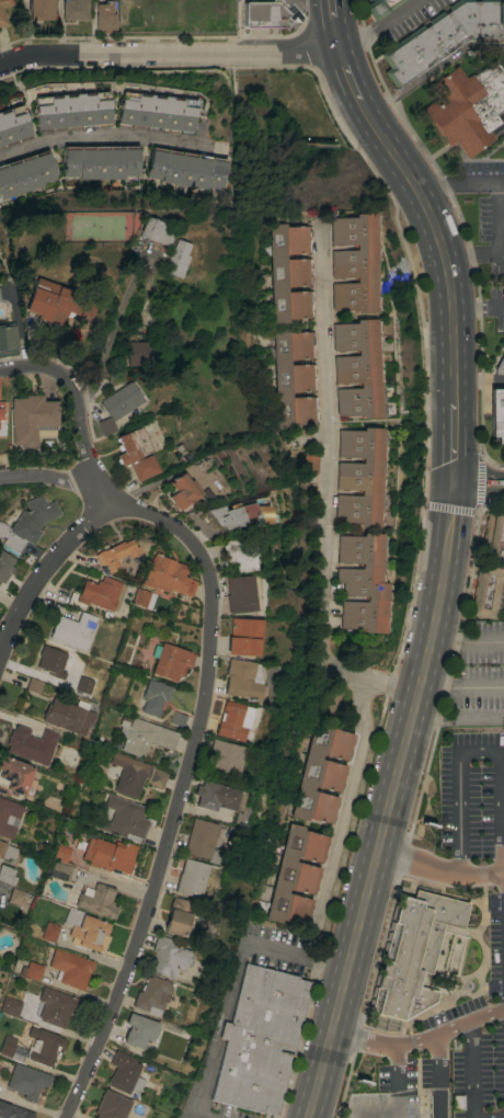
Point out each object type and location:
building: (379, 7)
building: (75, 9)
road: (333, 9)
building: (42, 10)
building: (217, 12)
building: (268, 12)
building: (131, 14)
building: (188, 14)
building: (2, 15)
building: (104, 15)
road: (378, 26)
road: (339, 35)
building: (443, 36)
road: (170, 55)
road: (348, 76)
building: (467, 106)
building: (71, 111)
building: (156, 112)
building: (13, 125)
road: (101, 137)
building: (101, 161)
building: (185, 168)
building: (25, 173)
road: (477, 183)
road: (435, 191)
road: (495, 224)
building: (154, 230)
road: (438, 241)
road: (469, 255)
building: (176, 259)
building: (355, 263)
building: (289, 271)
building: (58, 303)
road: (478, 309)
road: (110, 333)
building: (8, 335)
building: (137, 352)
building: (500, 365)
building: (358, 367)
building: (294, 377)
building: (117, 406)
building: (2, 410)
road: (76, 410)
building: (496, 413)
building: (32, 418)
building: (1, 420)
road: (455, 443)
building: (128, 446)
building: (309, 463)
building: (144, 467)
road: (48, 476)
building: (359, 476)
traffic signals: (455, 482)
road: (479, 483)
building: (181, 491)
road: (324, 492)
road: (477, 499)
building: (240, 512)
building: (27, 523)
building: (237, 552)
building: (115, 554)
building: (5, 564)
building: (490, 564)
road: (42, 573)
building: (167, 575)
building: (362, 582)
building: (96, 593)
building: (241, 593)
building: (141, 597)
building: (73, 629)
building: (242, 636)
road: (469, 642)
building: (169, 660)
building: (53, 661)
building: (241, 680)
building: (83, 684)
building: (34, 685)
road: (462, 687)
building: (152, 696)
building: (66, 715)
building: (177, 718)
building: (231, 720)
building: (144, 737)
building: (31, 744)
road: (482, 753)
building: (222, 760)
building: (321, 773)
building: (128, 774)
building: (13, 776)
building: (157, 777)
road: (181, 787)
building: (216, 796)
road: (390, 801)
road: (344, 810)
building: (9, 817)
building: (124, 819)
building: (201, 840)
building: (7, 851)
building: (61, 853)
building: (108, 854)
building: (58, 870)
road: (439, 872)
building: (7, 874)
building: (295, 876)
building: (190, 877)
building: (16, 897)
building: (96, 900)
building: (180, 915)
building: (85, 929)
building: (48, 932)
building: (413, 951)
building: (165, 956)
building: (69, 968)
building: (31, 970)
road: (229, 981)
building: (151, 994)
building: (10, 1005)
building: (53, 1006)
building: (138, 1029)
building: (260, 1039)
road: (419, 1041)
building: (7, 1045)
building: (42, 1046)
building: (18, 1052)
road: (470, 1070)
building: (124, 1072)
road: (438, 1075)
building: (26, 1081)
road: (394, 1099)
building: (111, 1105)
building: (13, 1111)

